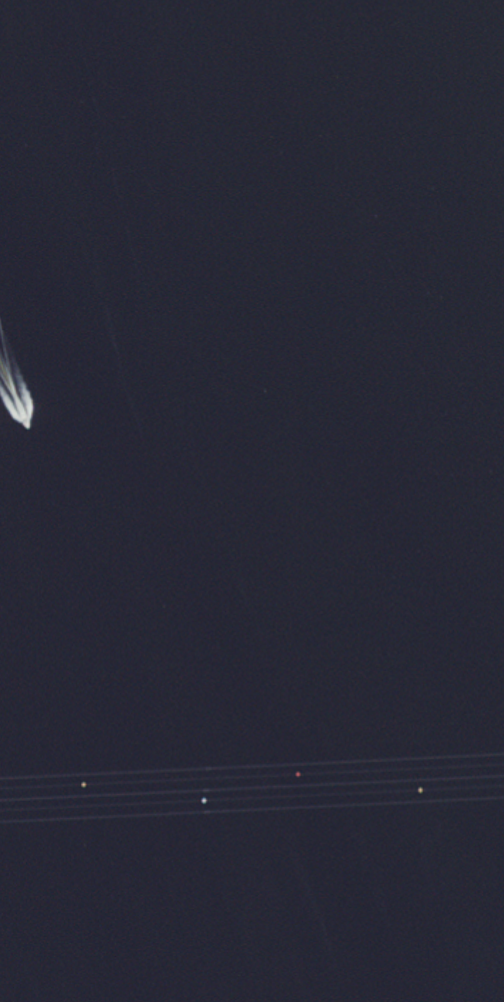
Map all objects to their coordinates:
river: (172, 632)

